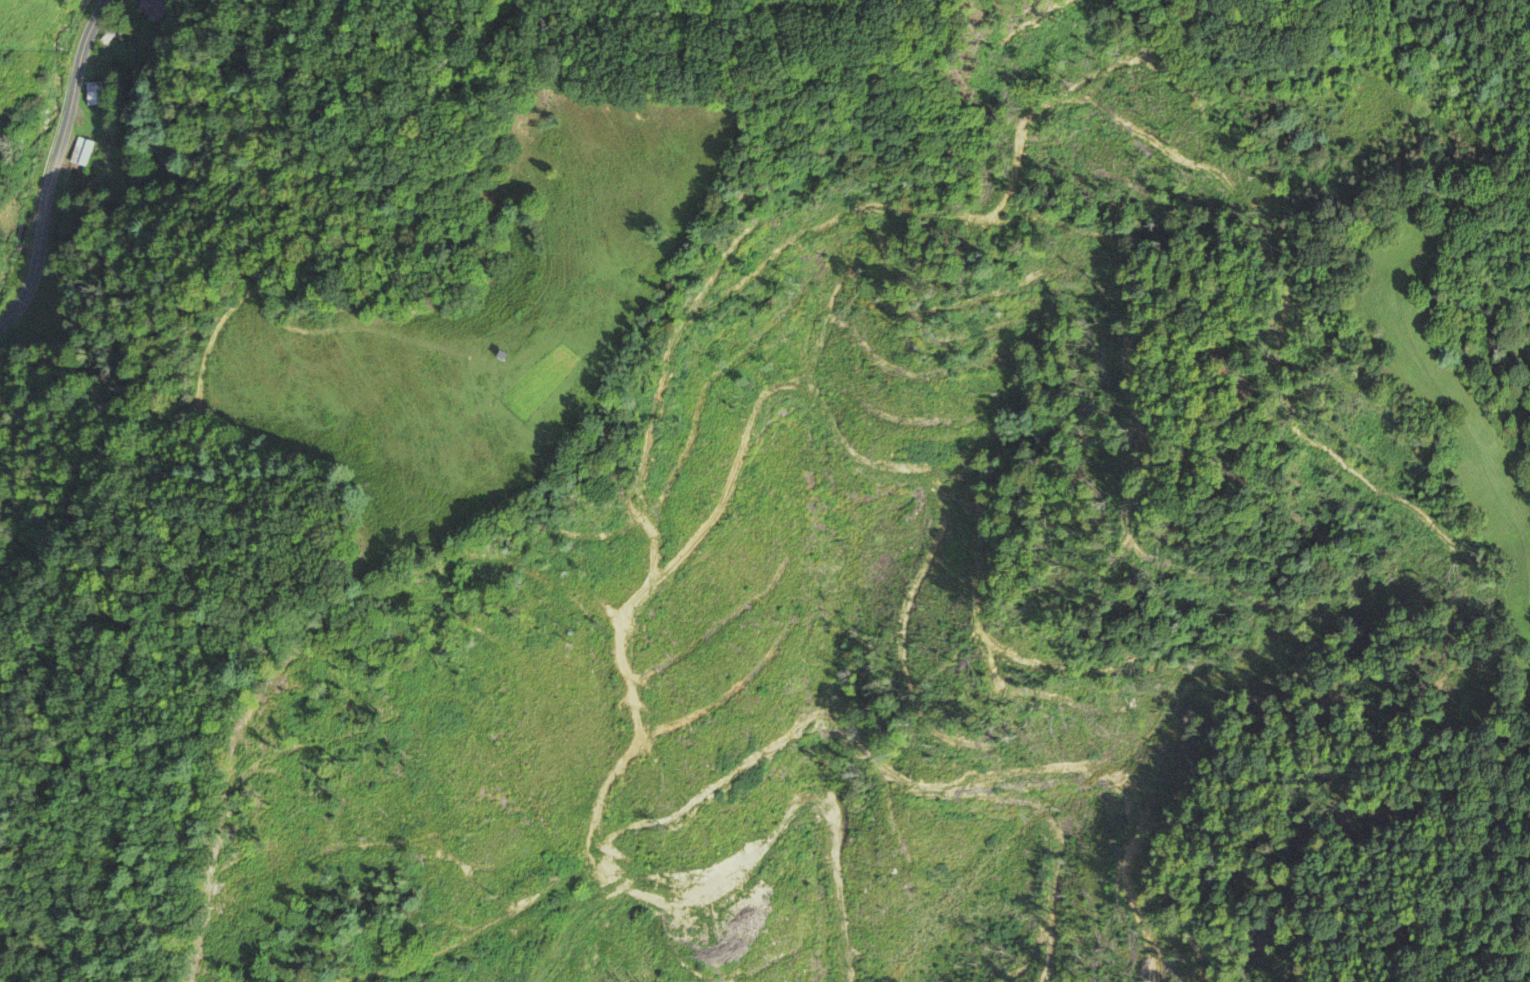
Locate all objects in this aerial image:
building: (152, 8)
building: (96, 93)
building: (81, 151)
road: (57, 159)

